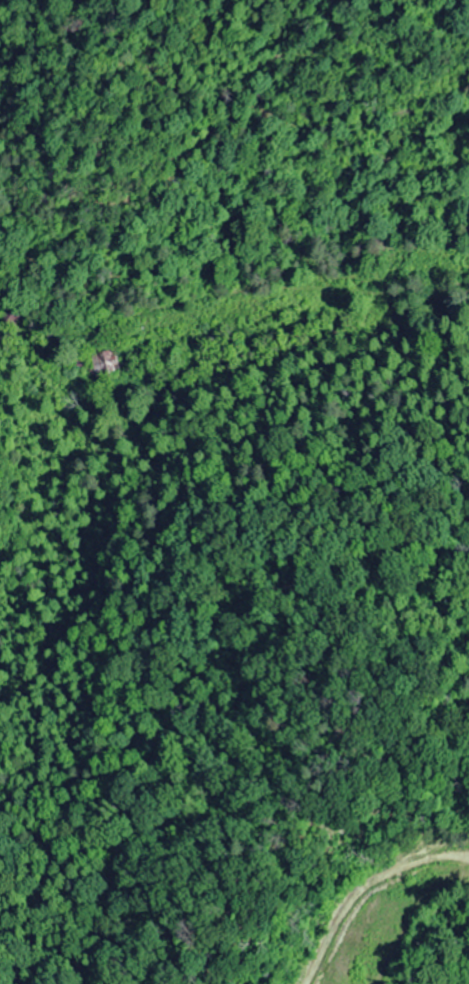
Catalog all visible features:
road: (335, 280)
building: (103, 364)

